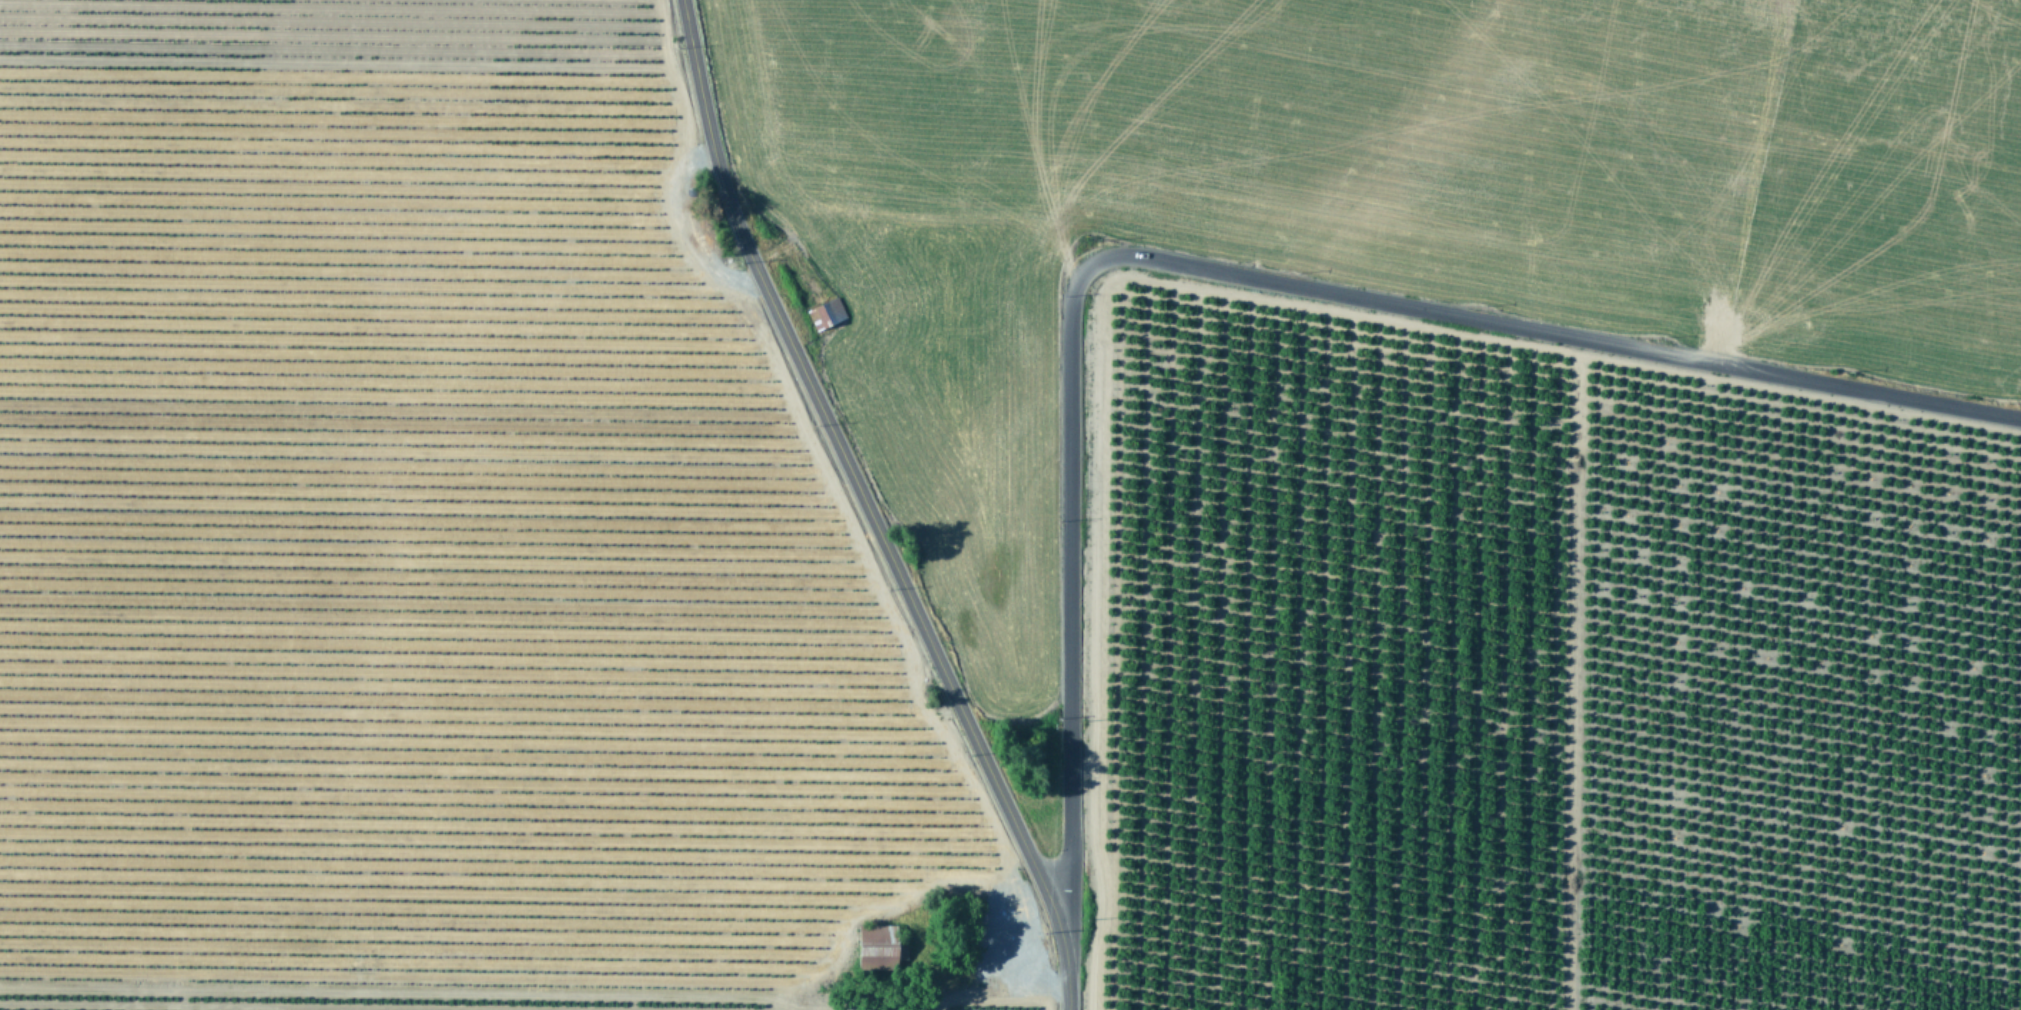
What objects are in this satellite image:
road: (1232, 270)
building: (827, 311)
crop: (745, 429)
road: (866, 508)

